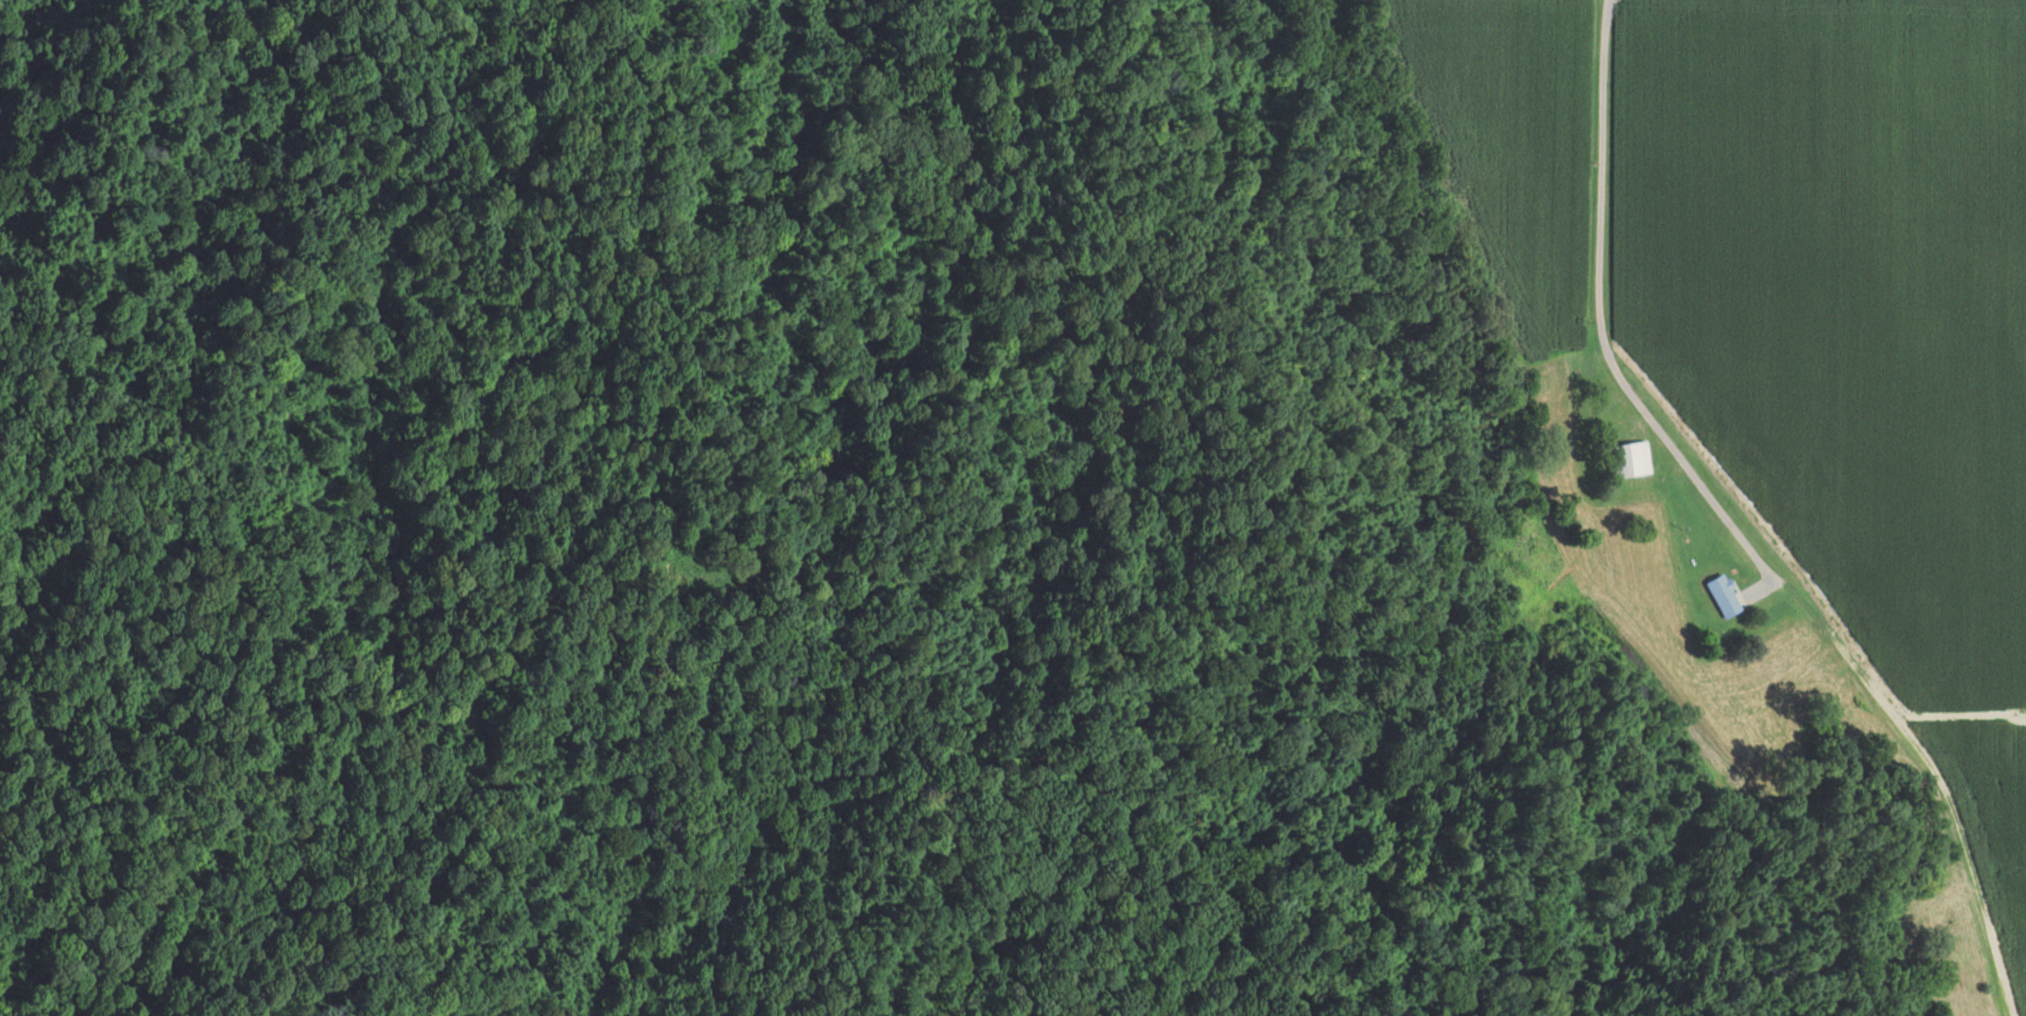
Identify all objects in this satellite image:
road: (1599, 330)
building: (1630, 458)
building: (1725, 594)

